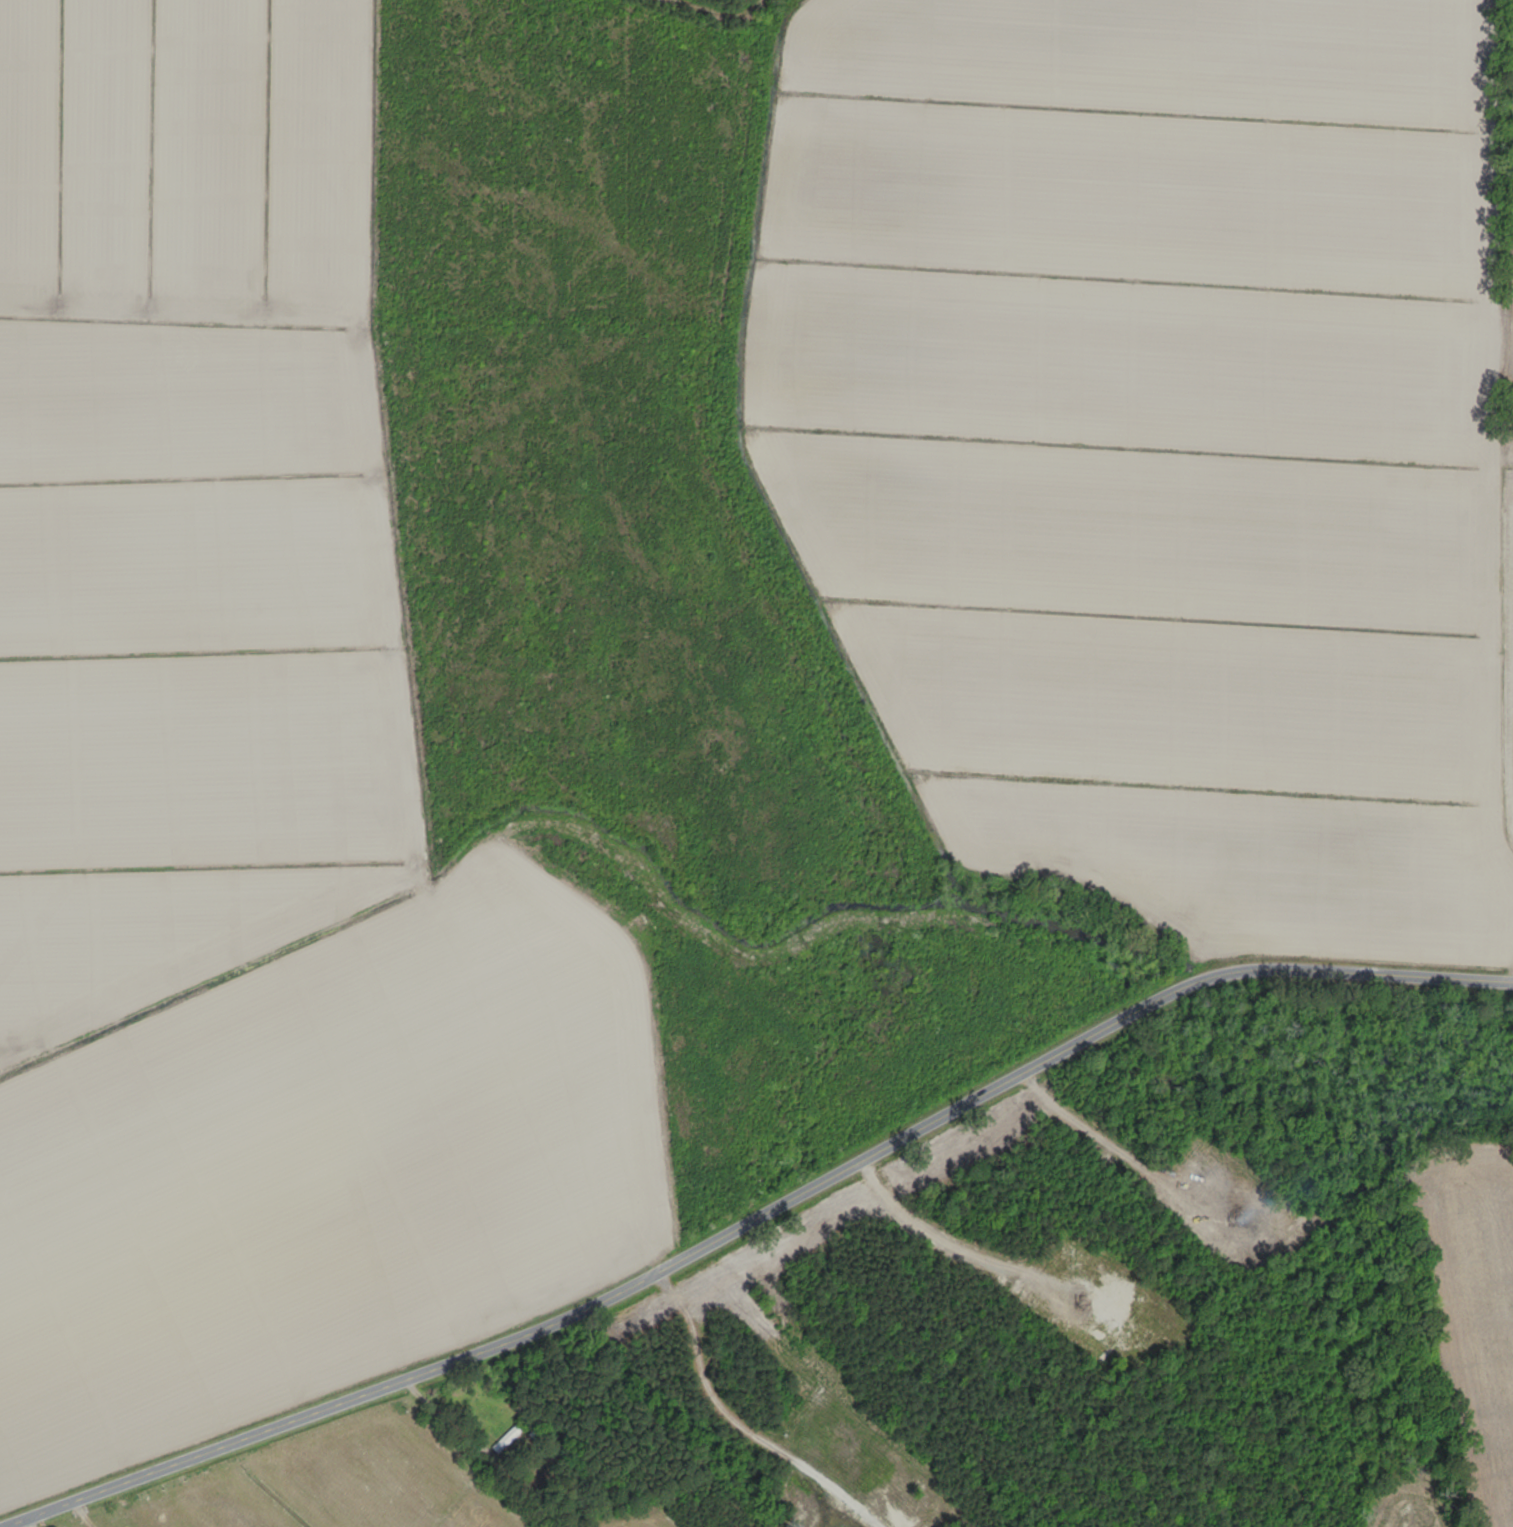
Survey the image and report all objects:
road: (774, 1233)

